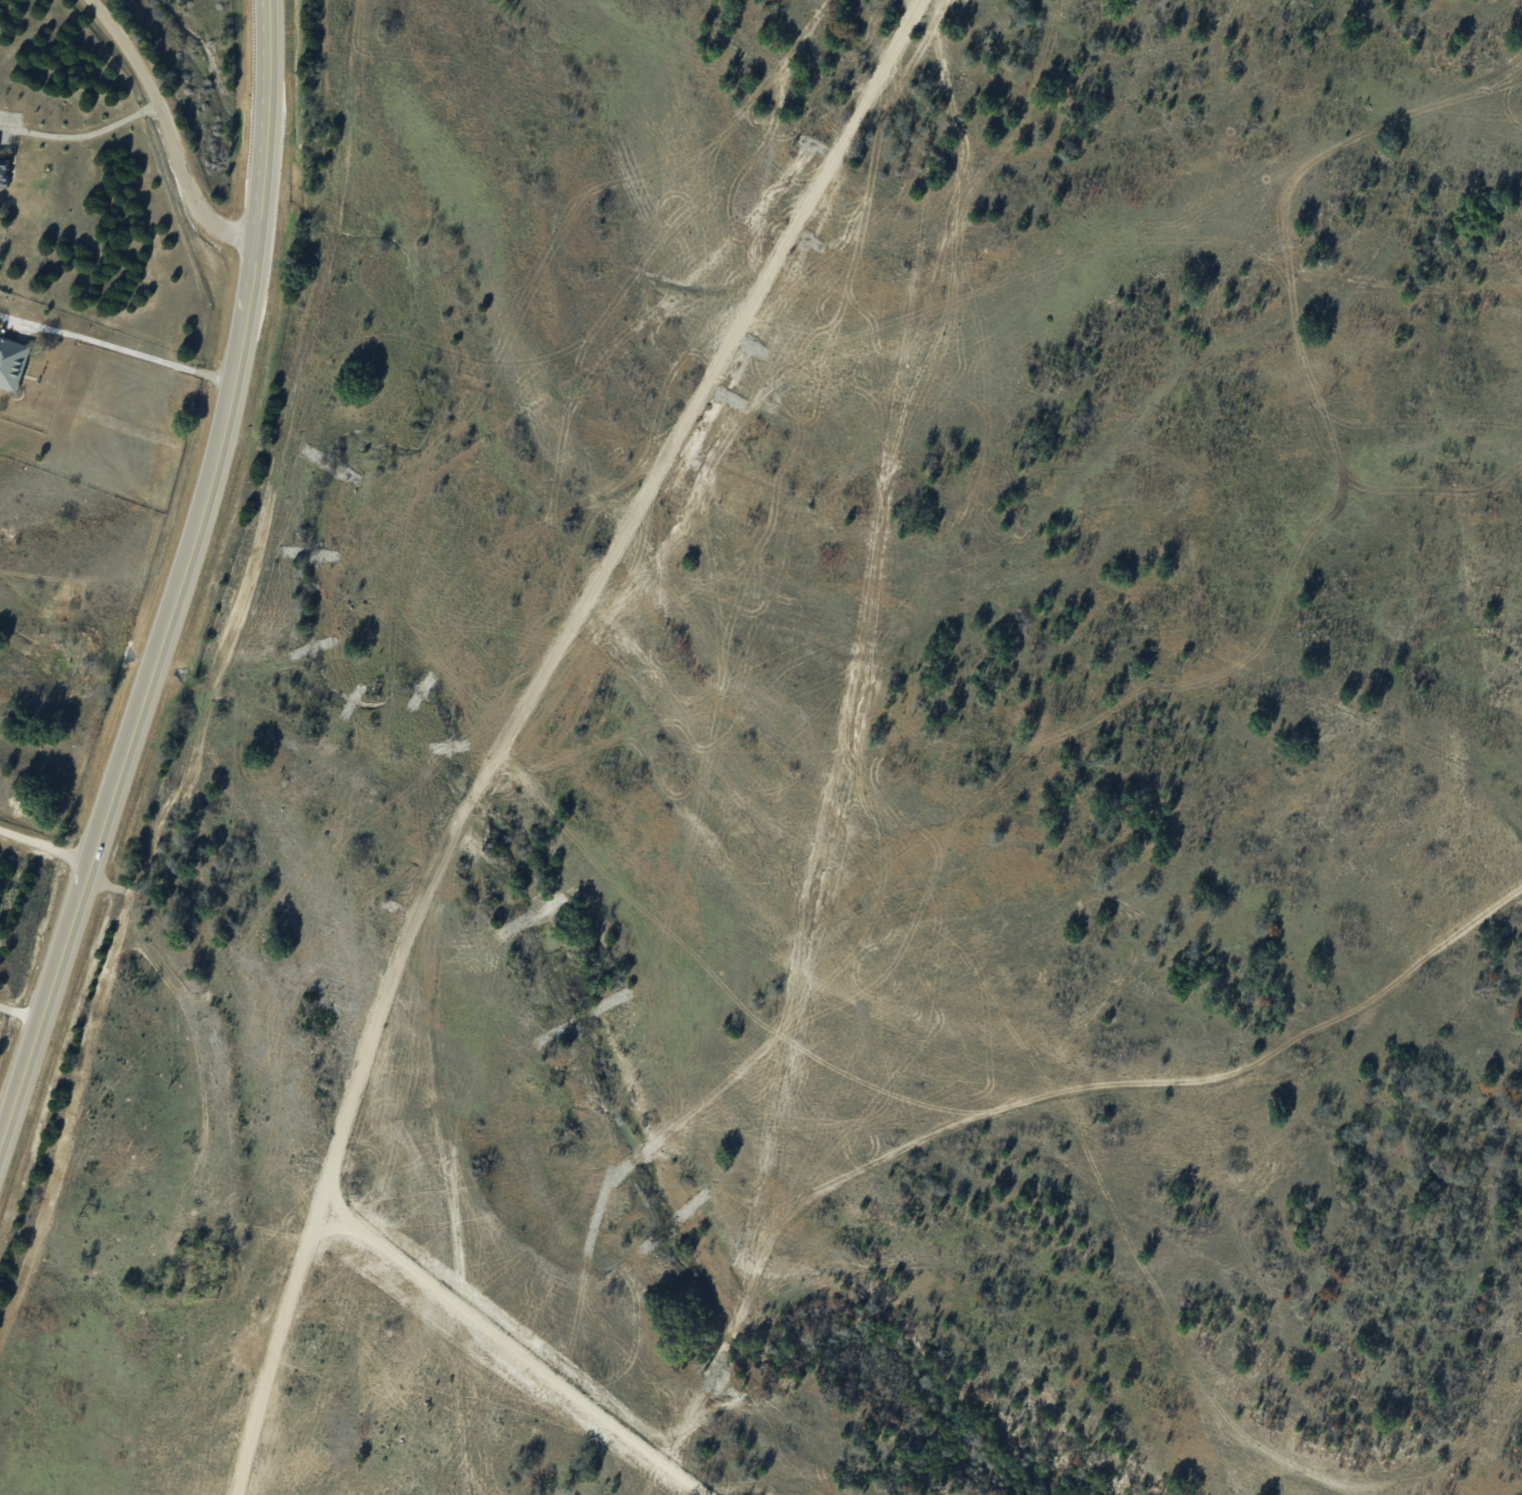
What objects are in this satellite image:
road: (165, 127)
road: (81, 140)
building: (5, 172)
road: (116, 353)
building: (13, 362)
road: (178, 576)
road: (507, 720)

